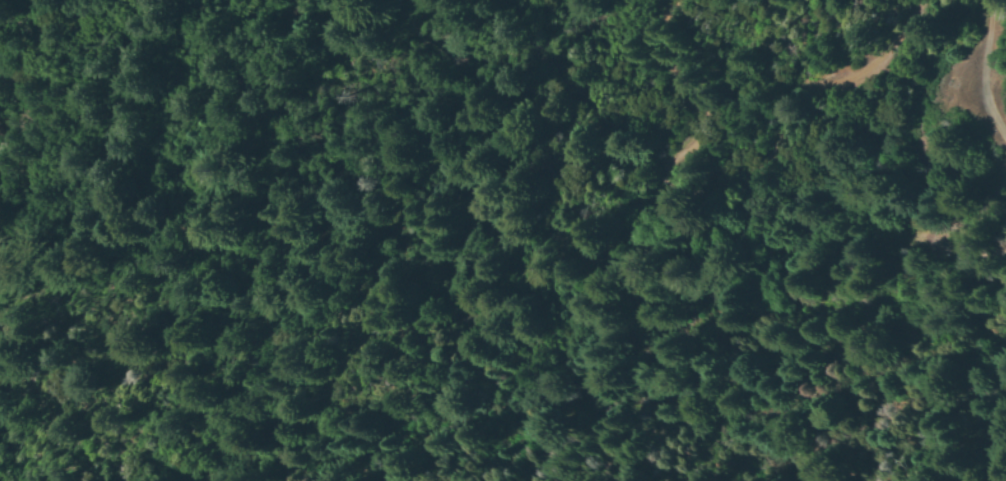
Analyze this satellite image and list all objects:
road: (979, 76)
road: (731, 177)
road: (935, 232)

